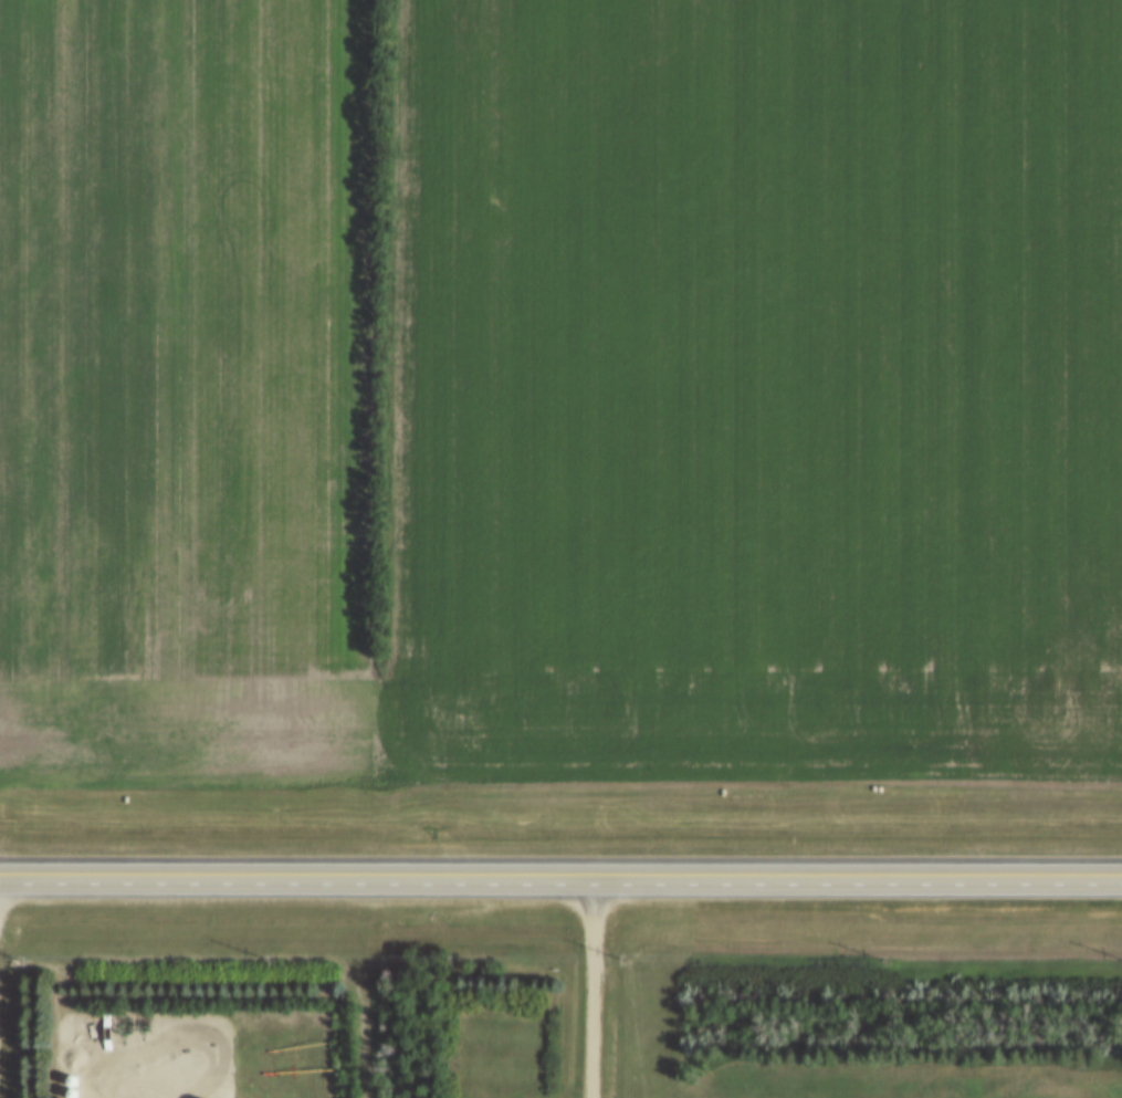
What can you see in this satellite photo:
road: (560, 872)
road: (590, 985)
building: (71, 1080)
silo: (71, 1080)
building: (72, 1094)
silo: (72, 1094)

